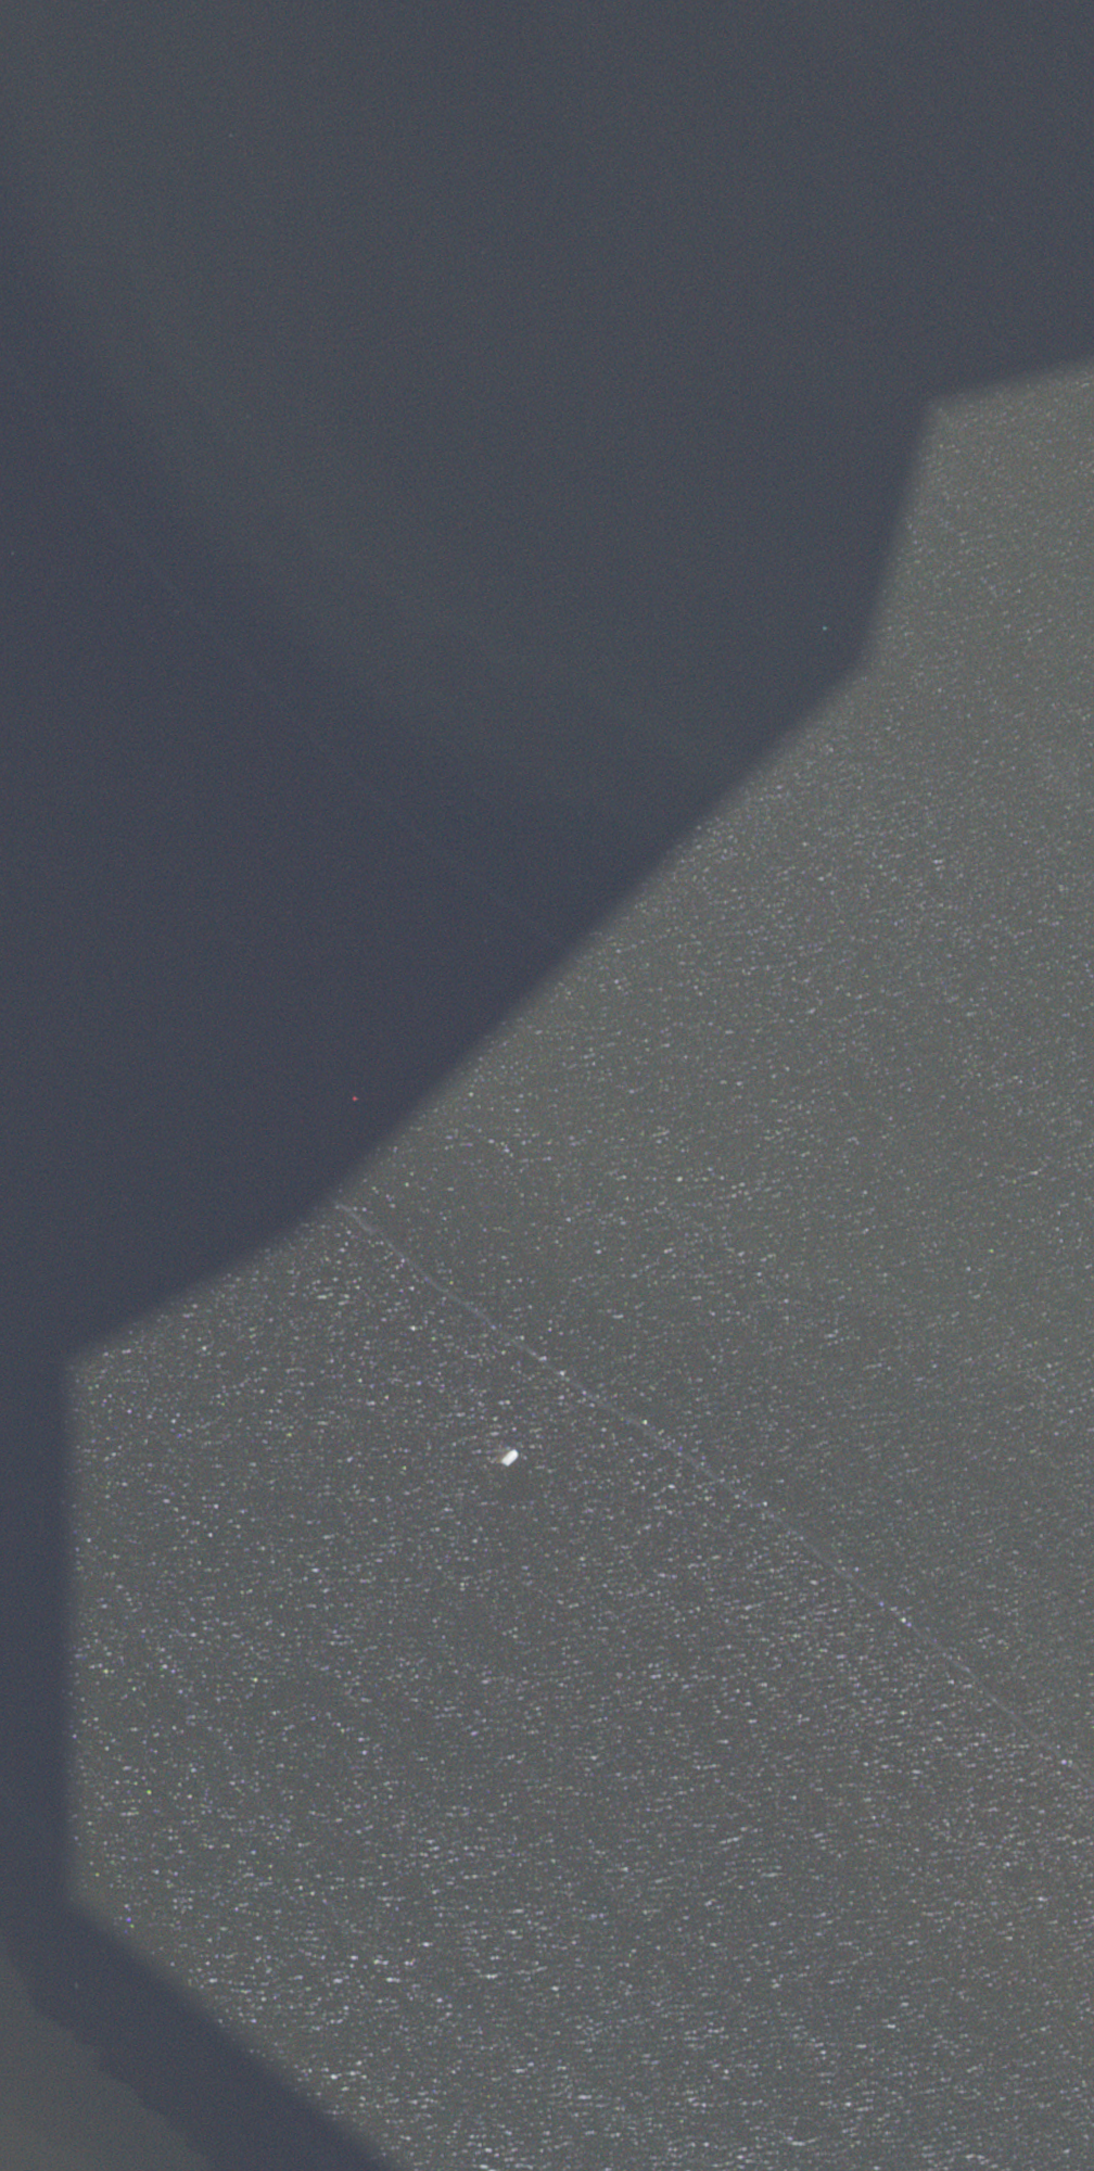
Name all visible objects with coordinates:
river: (370, 1776)

